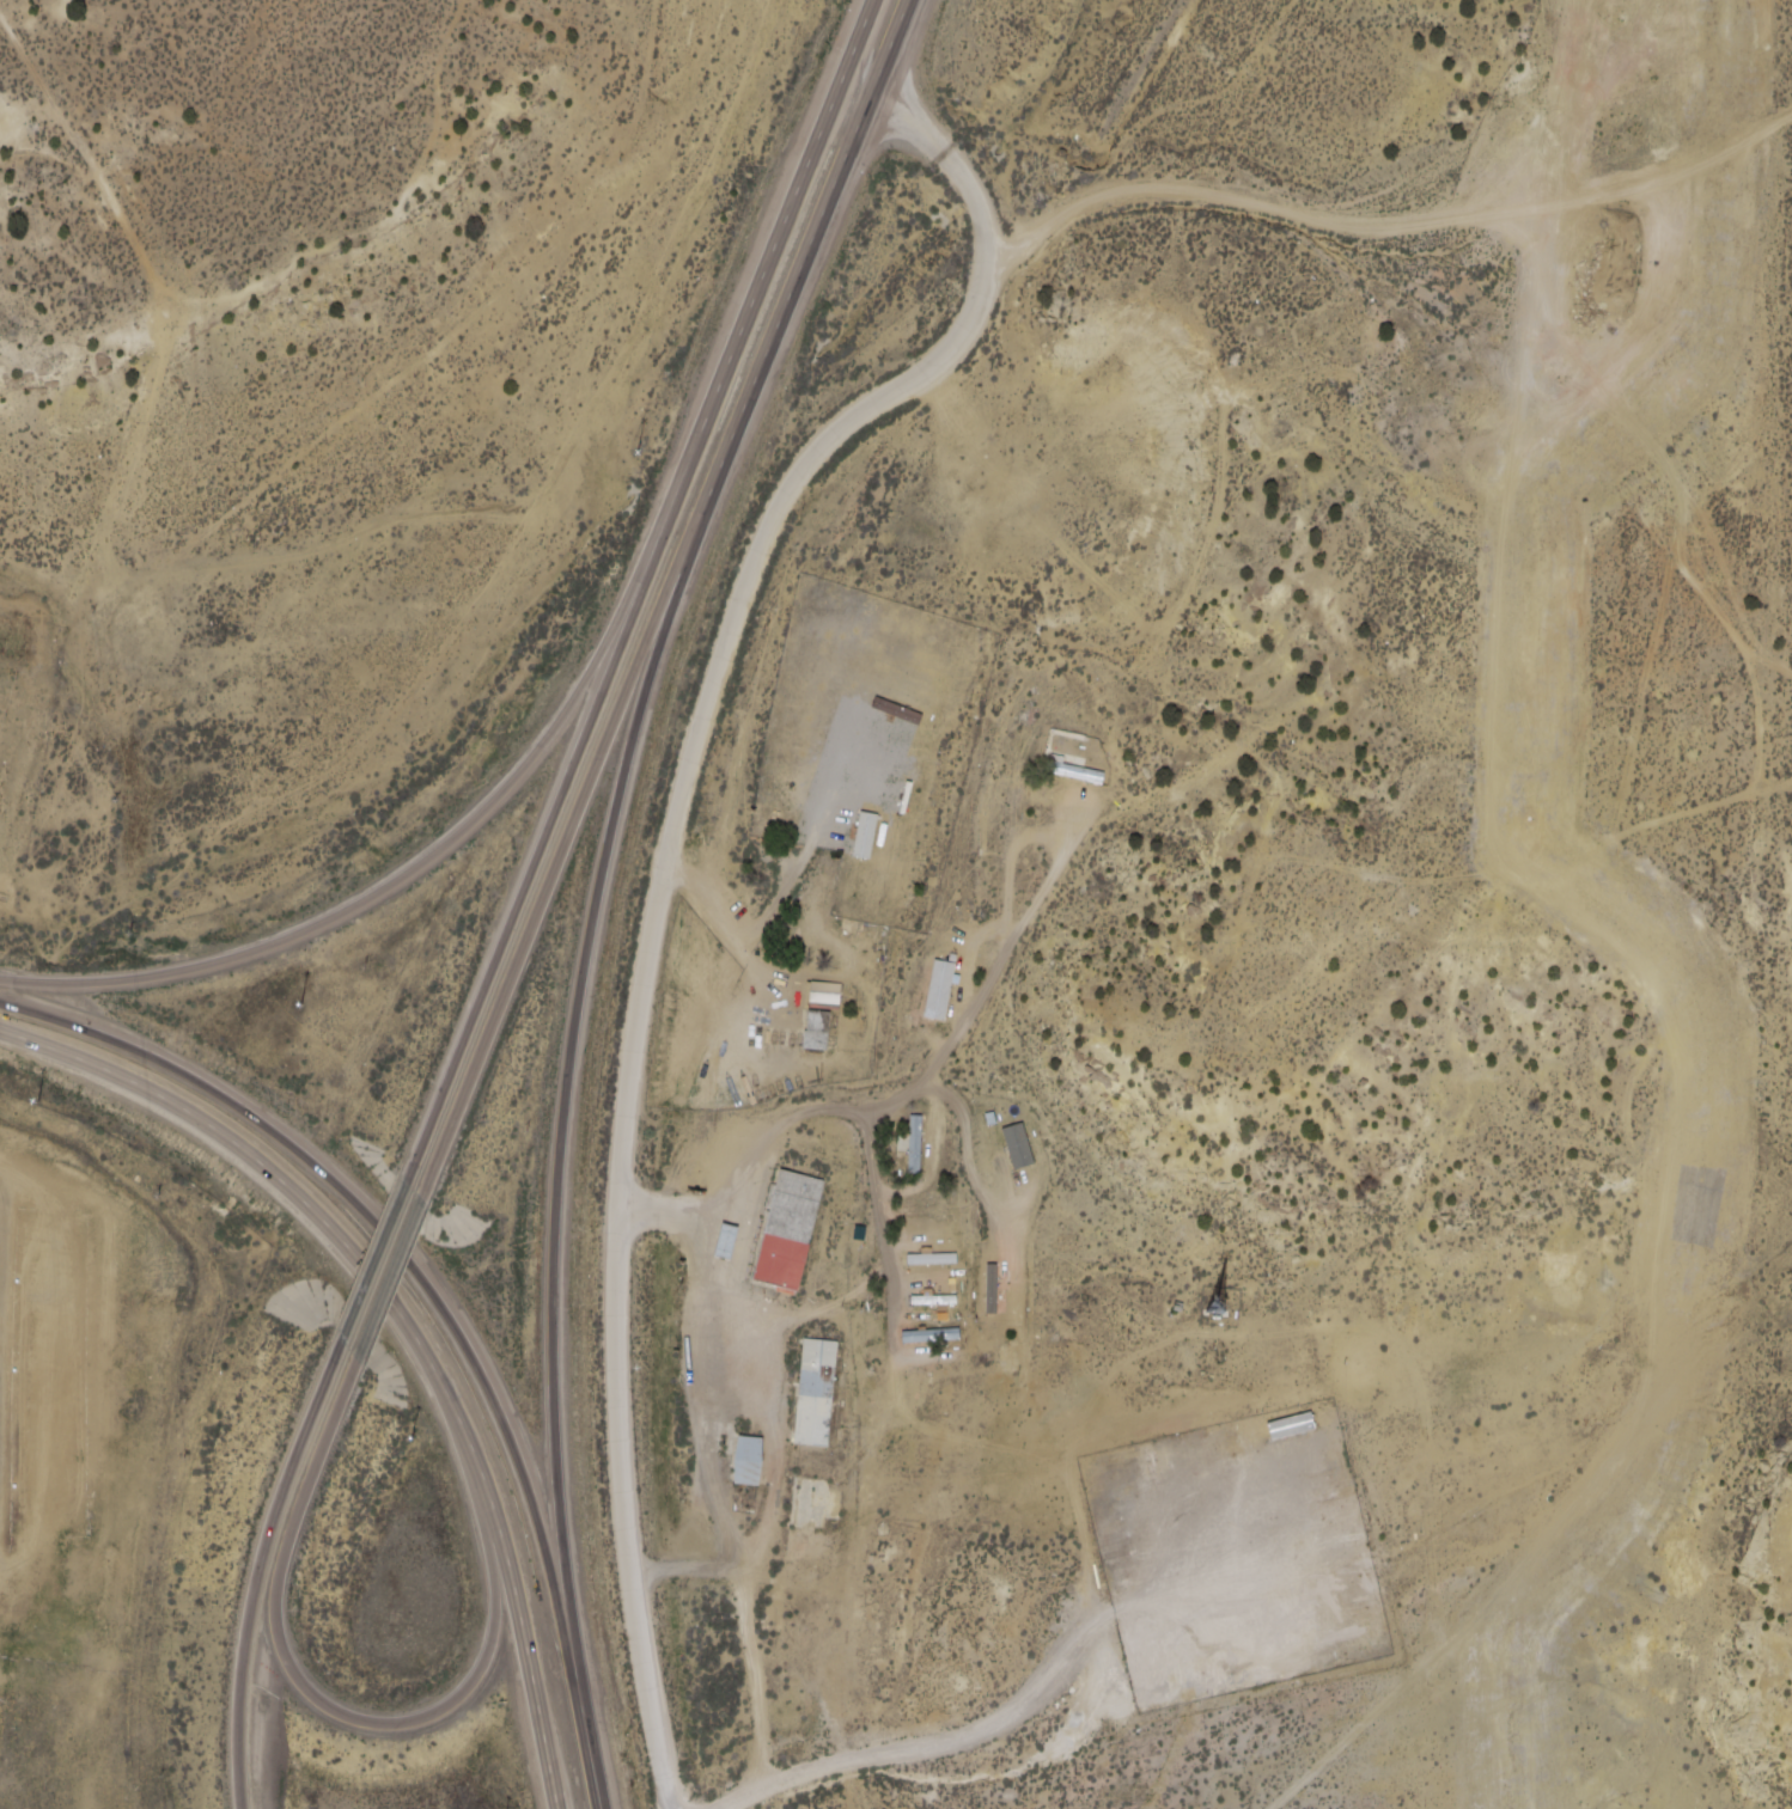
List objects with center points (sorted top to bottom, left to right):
road: (1115, 143)
road: (950, 153)
road: (1642, 187)
road: (815, 234)
road: (1536, 244)
road: (743, 319)
road: (879, 409)
road: (1776, 665)
building: (906, 711)
road: (1766, 739)
building: (1083, 776)
building: (915, 800)
road: (568, 831)
building: (874, 838)
road: (361, 905)
road: (513, 912)
road: (742, 948)
building: (949, 997)
building: (828, 1033)
road: (943, 1053)
road: (565, 1130)
building: (903, 1143)
building: (1019, 1145)
building: (925, 1149)
road: (968, 1153)
road: (621, 1179)
building: (927, 1199)
road: (878, 1214)
road: (758, 1234)
building: (799, 1234)
building: (737, 1247)
building: (944, 1263)
road: (376, 1265)
road: (705, 1267)
road: (391, 1278)
building: (993, 1296)
road: (437, 1298)
building: (945, 1303)
road: (406, 1322)
building: (943, 1342)
road: (784, 1364)
building: (828, 1399)
road: (717, 1416)
road: (787, 1462)
building: (758, 1465)
road: (863, 1544)
road: (261, 1570)
road: (1108, 1622)
road: (764, 1687)
road: (311, 1688)

